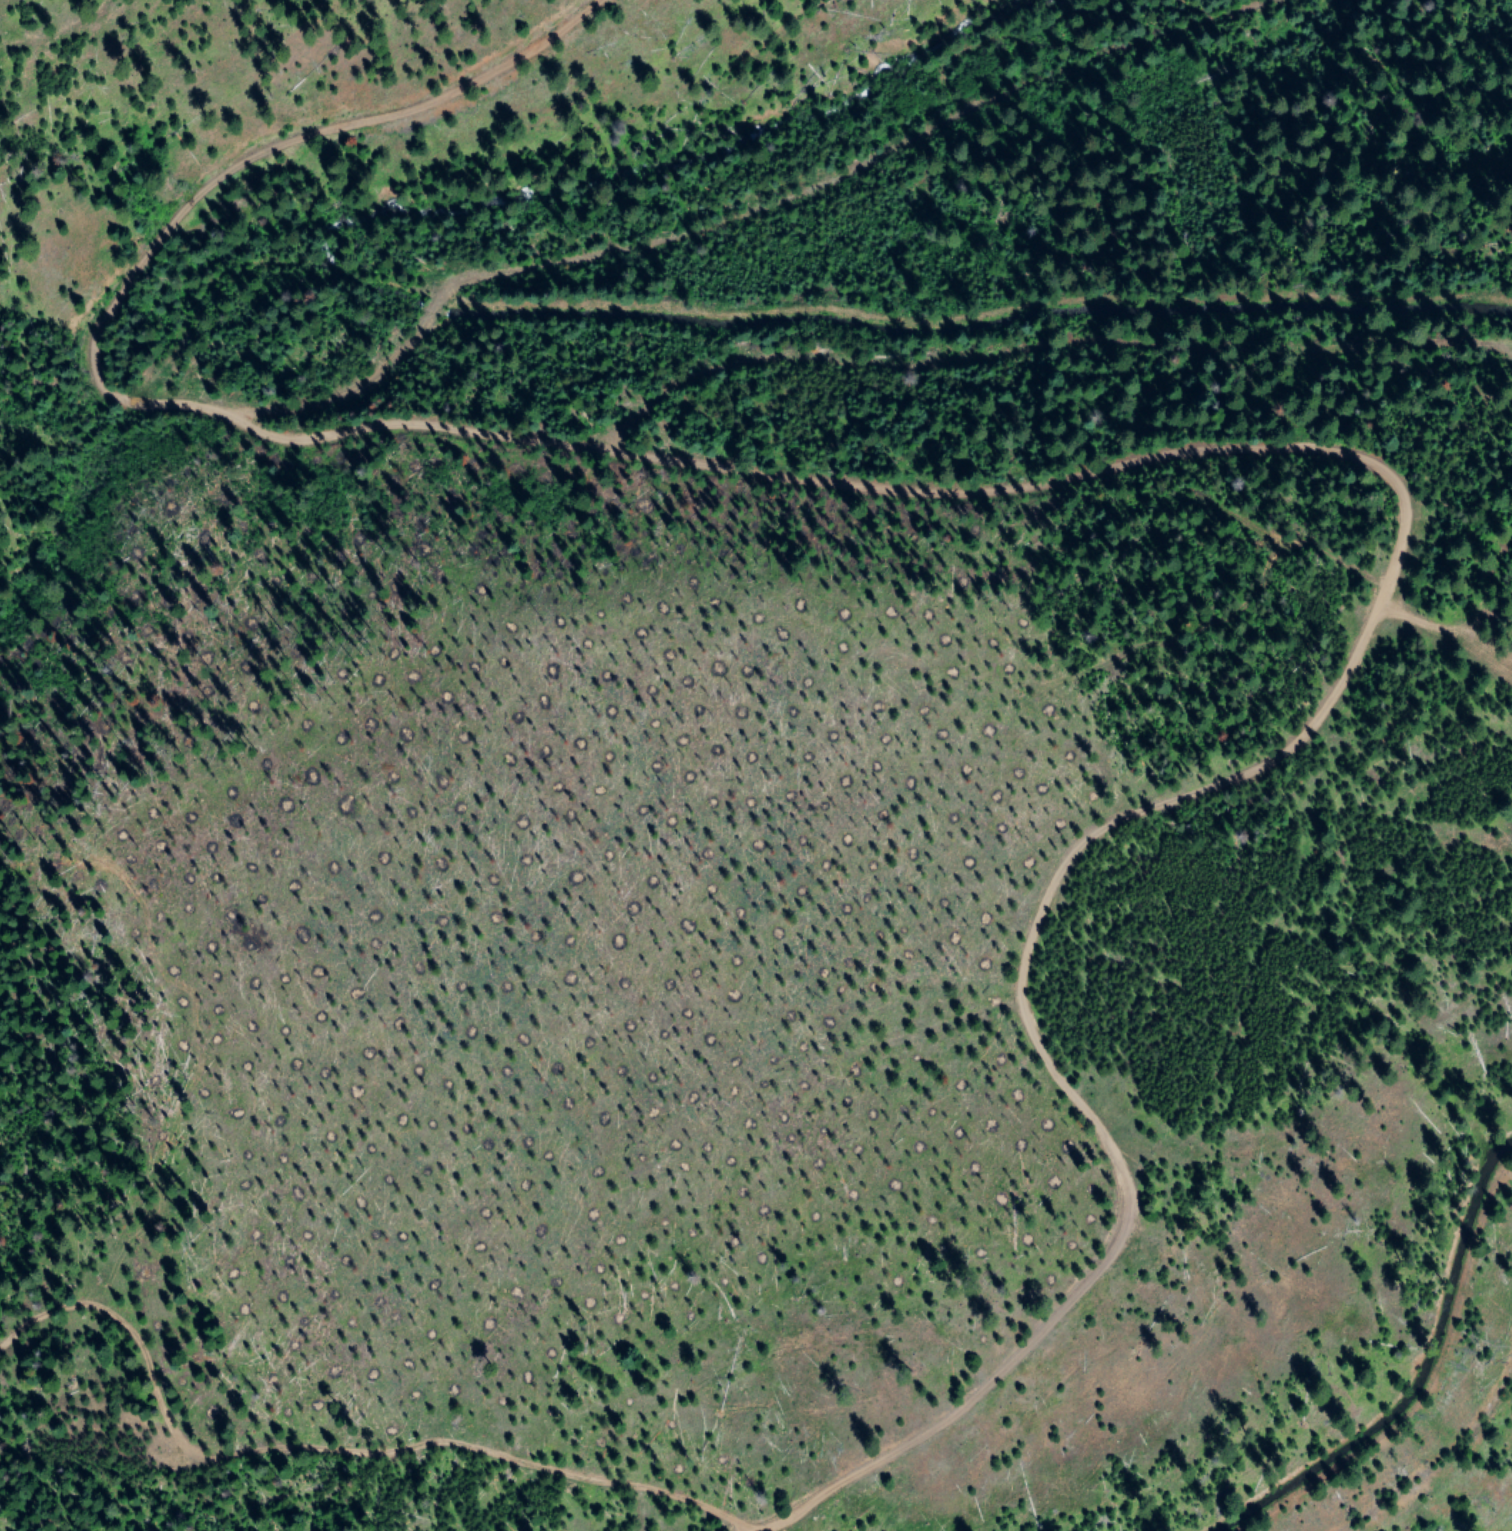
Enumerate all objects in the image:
road: (1064, 500)

